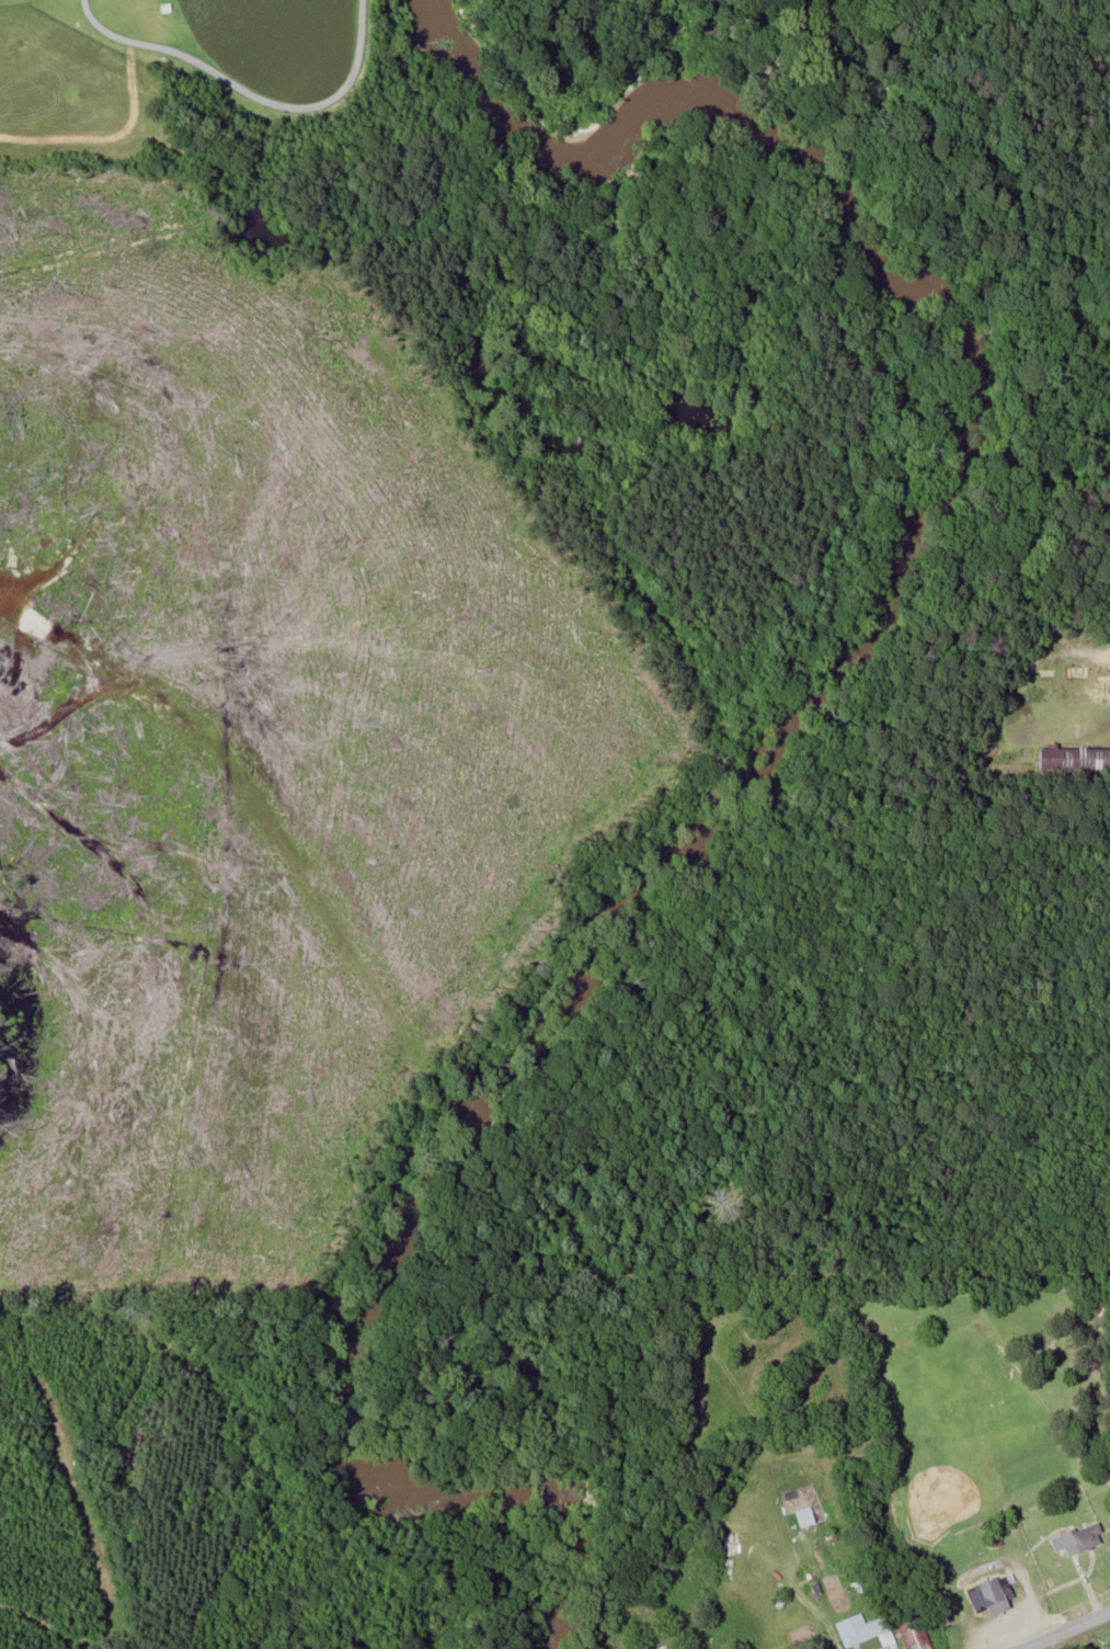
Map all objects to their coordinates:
park: (184, 88)
road: (247, 93)
river: (767, 758)
building: (806, 1517)
building: (1083, 1539)
building: (994, 1596)
road: (1063, 1629)
building: (867, 1630)
building: (916, 1635)

